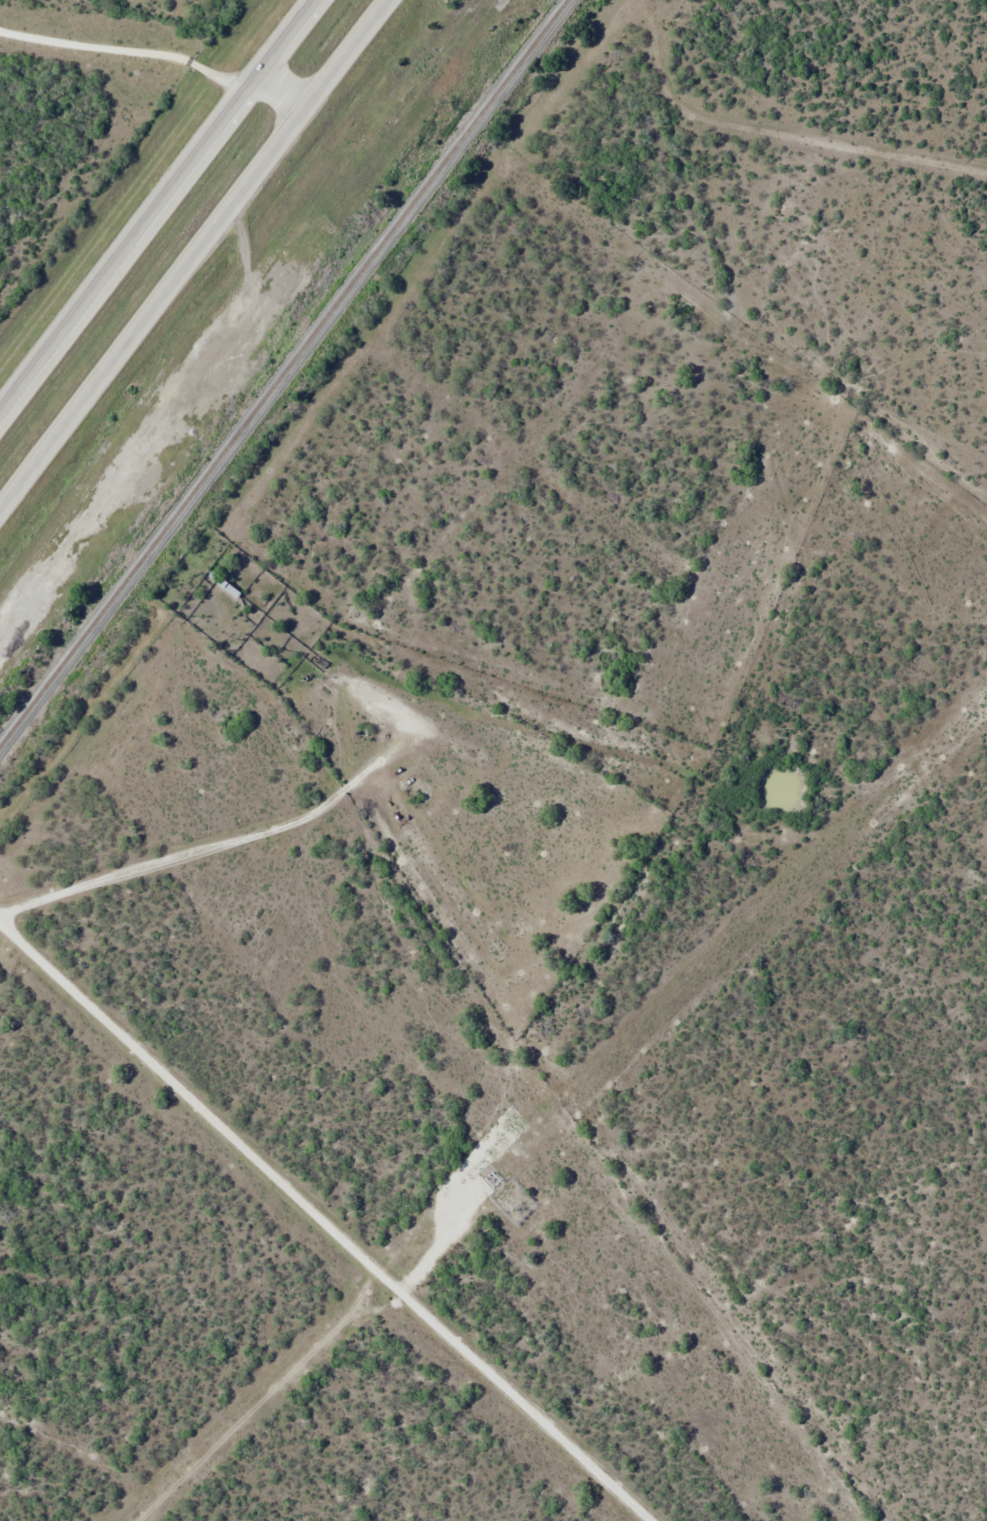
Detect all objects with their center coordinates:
road: (153, 62)
road: (161, 210)
road: (196, 255)
railway: (284, 373)
road: (321, 1222)

